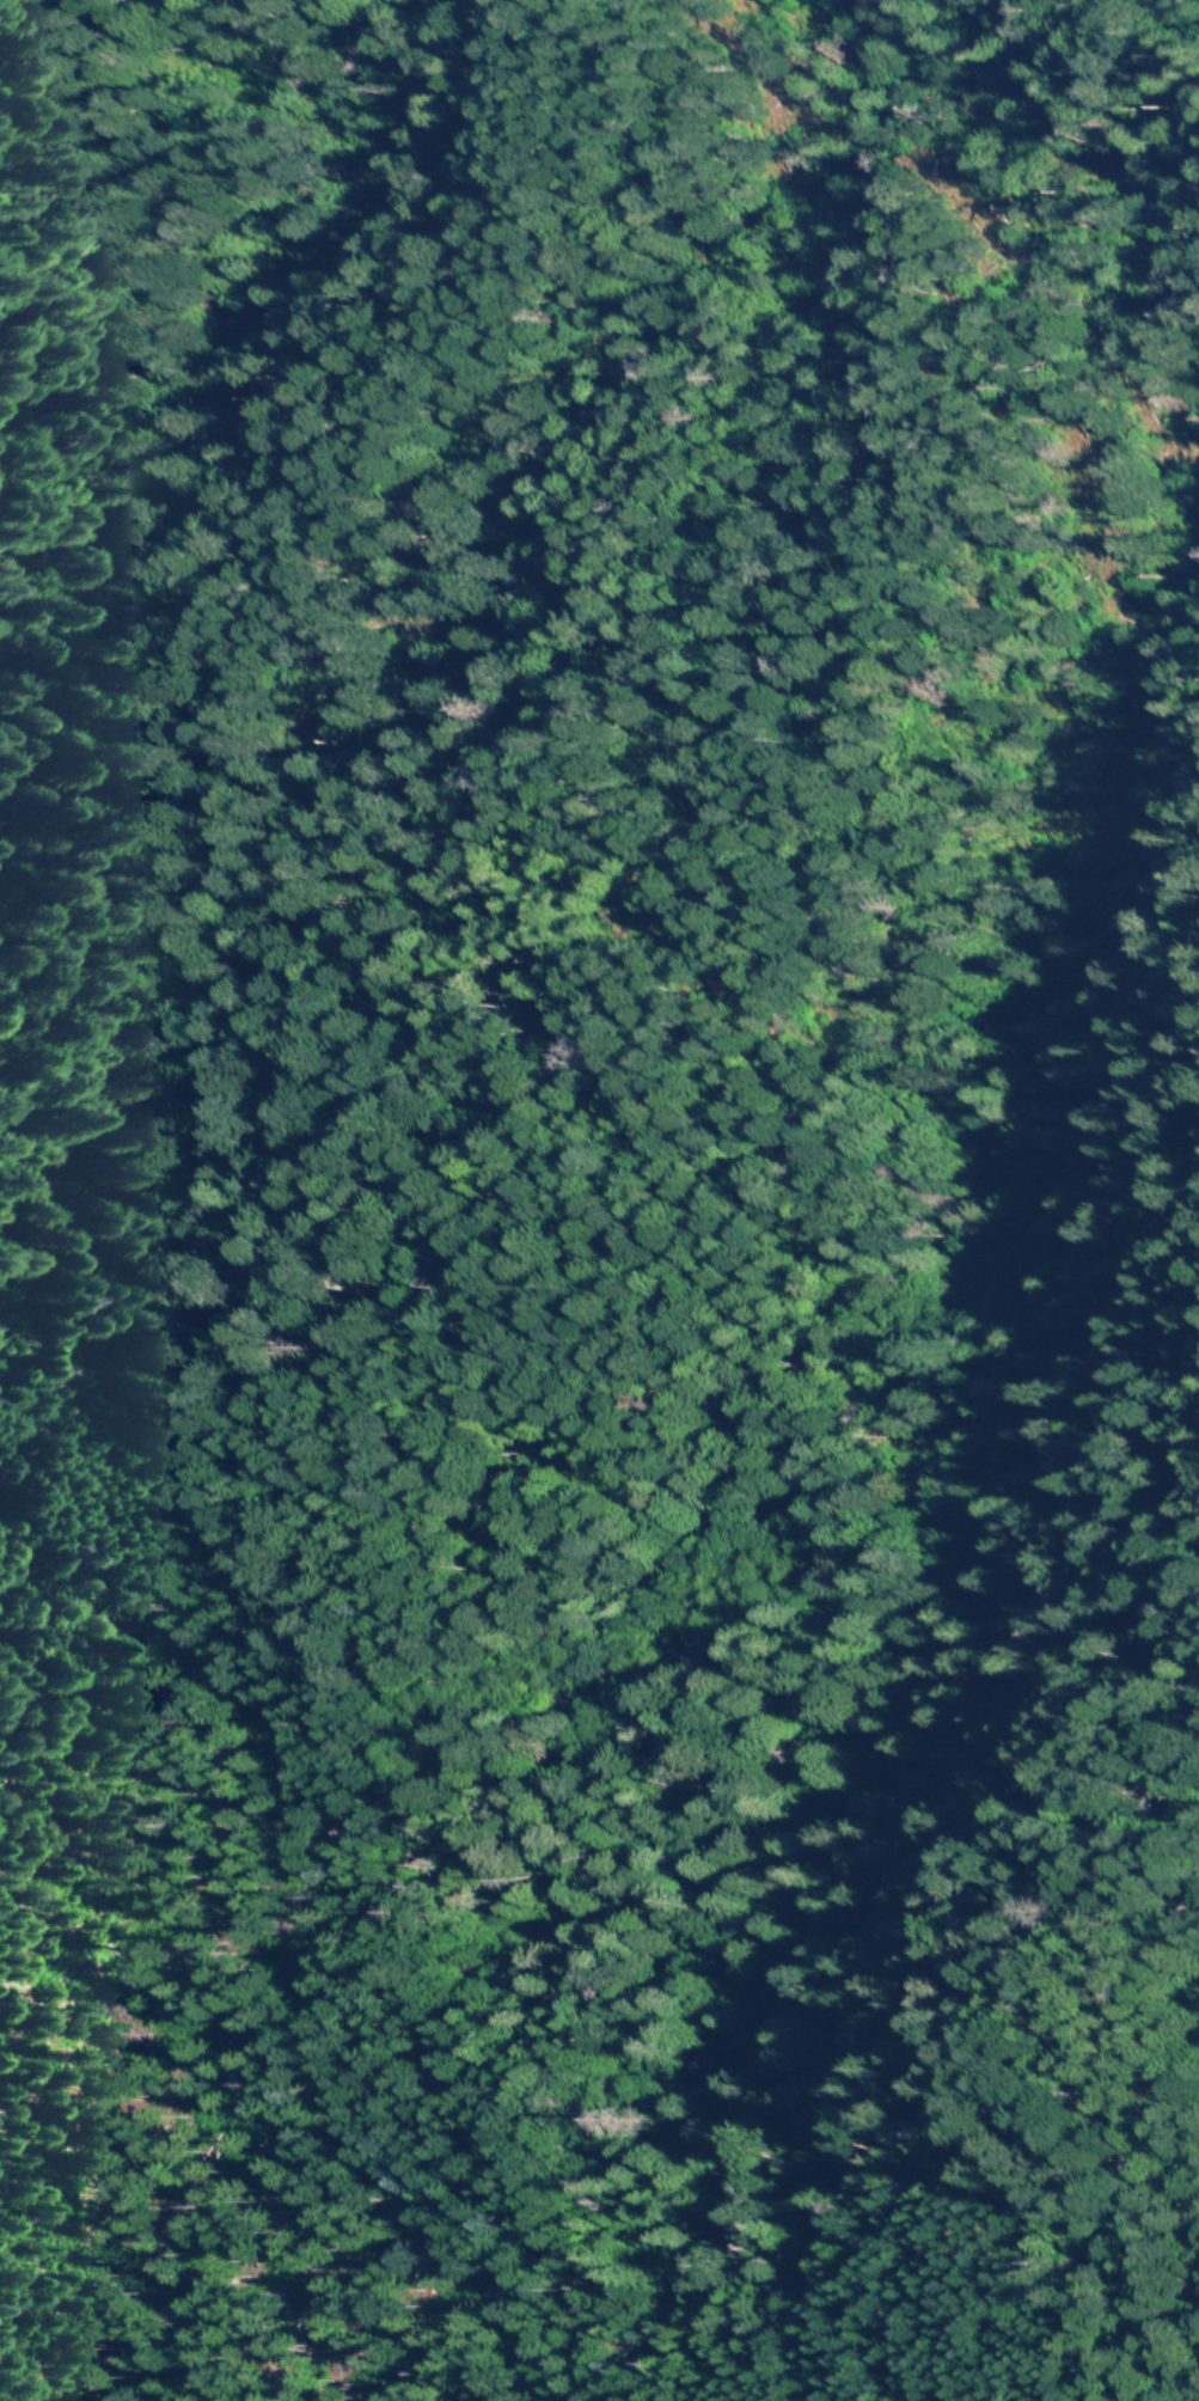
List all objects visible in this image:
road: (1103, 73)
road: (295, 1933)

